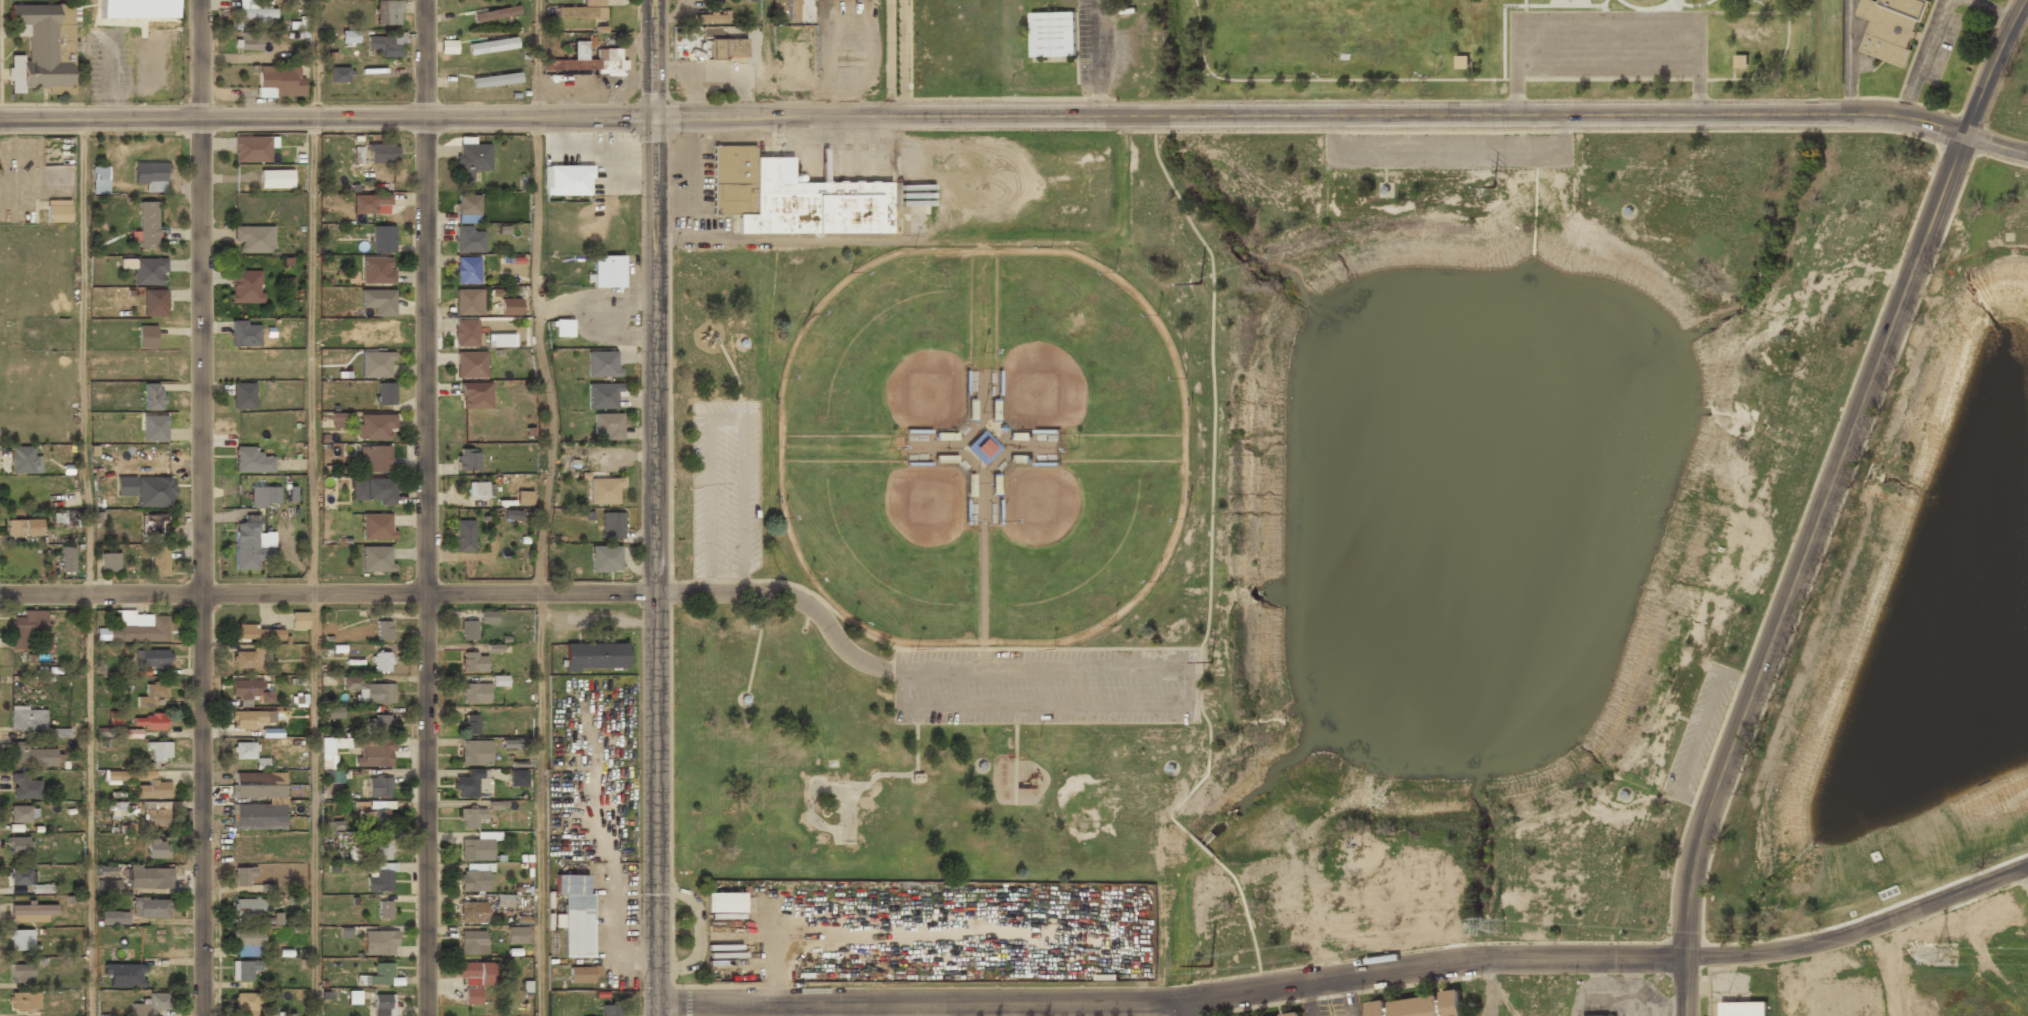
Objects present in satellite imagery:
building: (136, 9)
building: (252, 10)
building: (582, 10)
building: (792, 10)
building: (387, 13)
building: (495, 14)
road: (1524, 14)
building: (712, 19)
park: (1327, 21)
road: (1607, 27)
building: (1890, 27)
building: (21, 30)
building: (1052, 34)
building: (349, 36)
building: (248, 42)
parking lot: (1607, 43)
building: (384, 45)
building: (492, 45)
building: (448, 47)
building: (43, 49)
building: (723, 49)
park: (1504, 49)
road: (653, 58)
road: (313, 59)
road: (536, 59)
building: (589, 61)
building: (1461, 61)
road: (1607, 61)
building: (1741, 62)
building: (796, 65)
road: (1733, 73)
building: (338, 75)
building: (495, 79)
building: (278, 80)
road: (1491, 80)
road: (1516, 87)
road: (1698, 87)
road: (1310, 115)
road: (327, 118)
road: (1995, 146)
building: (251, 149)
parking lot: (1447, 151)
road: (1448, 152)
building: (382, 153)
building: (471, 158)
road: (1385, 168)
building: (151, 176)
building: (275, 179)
building: (100, 180)
building: (566, 180)
road: (1592, 180)
road: (1381, 185)
power tower: (1494, 187)
building: (791, 197)
building: (368, 203)
road: (1622, 207)
building: (467, 208)
building: (57, 213)
building: (147, 225)
building: (253, 238)
building: (382, 239)
building: (468, 239)
building: (145, 270)
building: (377, 270)
building: (466, 270)
building: (607, 272)
power tower: (1200, 282)
building: (245, 286)
building: (377, 300)
building: (468, 302)
building: (154, 303)
building: (510, 308)
building: (563, 328)
building: (244, 333)
building: (465, 334)
building: (146, 338)
road: (737, 338)
building: (501, 341)
park: (1080, 349)
park: (880, 350)
road: (730, 352)
road: (311, 356)
road: (540, 356)
building: (601, 364)
building: (376, 365)
building: (470, 365)
road: (736, 380)
road: (1851, 384)
building: (384, 394)
building: (243, 396)
building: (475, 396)
building: (602, 396)
building: (153, 398)
road: (980, 416)
building: (340, 419)
road: (726, 419)
building: (373, 426)
building: (607, 426)
building: (154, 429)
road: (966, 435)
road: (950, 448)
road: (1030, 448)
building: (373, 459)
building: (22, 460)
building: (466, 460)
building: (252, 461)
building: (290, 465)
building: (125, 486)
parking lot: (725, 488)
building: (372, 490)
building: (477, 490)
building: (155, 492)
building: (604, 492)
building: (263, 496)
building: (523, 498)
road: (1826, 500)
road: (201, 507)
road: (424, 508)
building: (513, 514)
building: (66, 518)
power tower: (1493, 522)
building: (154, 524)
building: (377, 526)
building: (611, 526)
building: (23, 529)
park: (1268, 529)
building: (464, 535)
road: (982, 543)
building: (249, 545)
park: (885, 547)
park: (1078, 547)
building: (376, 558)
building: (605, 559)
building: (66, 560)
building: (158, 561)
building: (109, 563)
road: (654, 566)
road: (88, 567)
road: (1209, 569)
road: (327, 594)
road: (791, 597)
building: (487, 617)
building: (298, 620)
park: (1907, 624)
building: (25, 628)
building: (467, 629)
building: (383, 630)
building: (141, 632)
building: (257, 633)
road: (756, 644)
road: (917, 649)
building: (595, 656)
building: (151, 659)
building: (246, 659)
building: (382, 659)
building: (472, 660)
power tower: (1211, 661)
building: (499, 680)
parking lot: (1046, 686)
building: (366, 689)
building: (248, 690)
building: (475, 693)
building: (152, 694)
road: (739, 696)
road: (1189, 703)
building: (334, 712)
building: (1670, 713)
building: (115, 719)
building: (247, 719)
building: (27, 720)
road: (1688, 720)
building: (148, 721)
building: (378, 724)
building: (470, 724)
road: (1699, 732)
parking lot: (1700, 732)
building: (132, 733)
road: (915, 739)
road: (996, 749)
building: (244, 751)
building: (373, 752)
building: (159, 753)
building: (475, 753)
road: (1014, 755)
building: (31, 756)
road: (975, 761)
building: (261, 764)
road: (1167, 764)
road: (1193, 768)
building: (334, 776)
building: (113, 777)
building: (917, 777)
building: (517, 778)
building: (467, 784)
building: (259, 785)
building: (379, 787)
building: (23, 788)
building: (152, 790)
road: (1621, 790)
road: (1654, 793)
road: (539, 804)
road: (313, 805)
park: (837, 805)
building: (20, 815)
building: (258, 816)
building: (471, 817)
building: (155, 818)
building: (380, 818)
building: (18, 845)
building: (477, 846)
building: (383, 849)
building: (157, 850)
building: (106, 871)
building: (243, 877)
building: (150, 878)
building: (381, 878)
building: (471, 880)
building: (28, 881)
building: (103, 886)
building: (503, 900)
building: (723, 903)
building: (247, 908)
building: (151, 909)
building: (384, 910)
building: (31, 912)
building: (471, 912)
building: (574, 913)
building: (114, 918)
power tower: (1493, 925)
building: (516, 934)
building: (246, 938)
building: (21, 940)
building: (471, 942)
building: (378, 943)
power tower: (1941, 955)
power tower: (1209, 966)
building: (242, 969)
building: (20, 974)
building: (582, 975)
building: (123, 976)
building: (378, 976)
road: (1348, 976)
building: (472, 982)
building: (354, 997)
building: (21, 1002)
building: (150, 1004)
building: (245, 1004)
building: (383, 1005)
building: (1418, 1006)
road: (1183, 1008)
building: (1743, 1009)
building: (609, 1011)
building: (1291, 1015)

